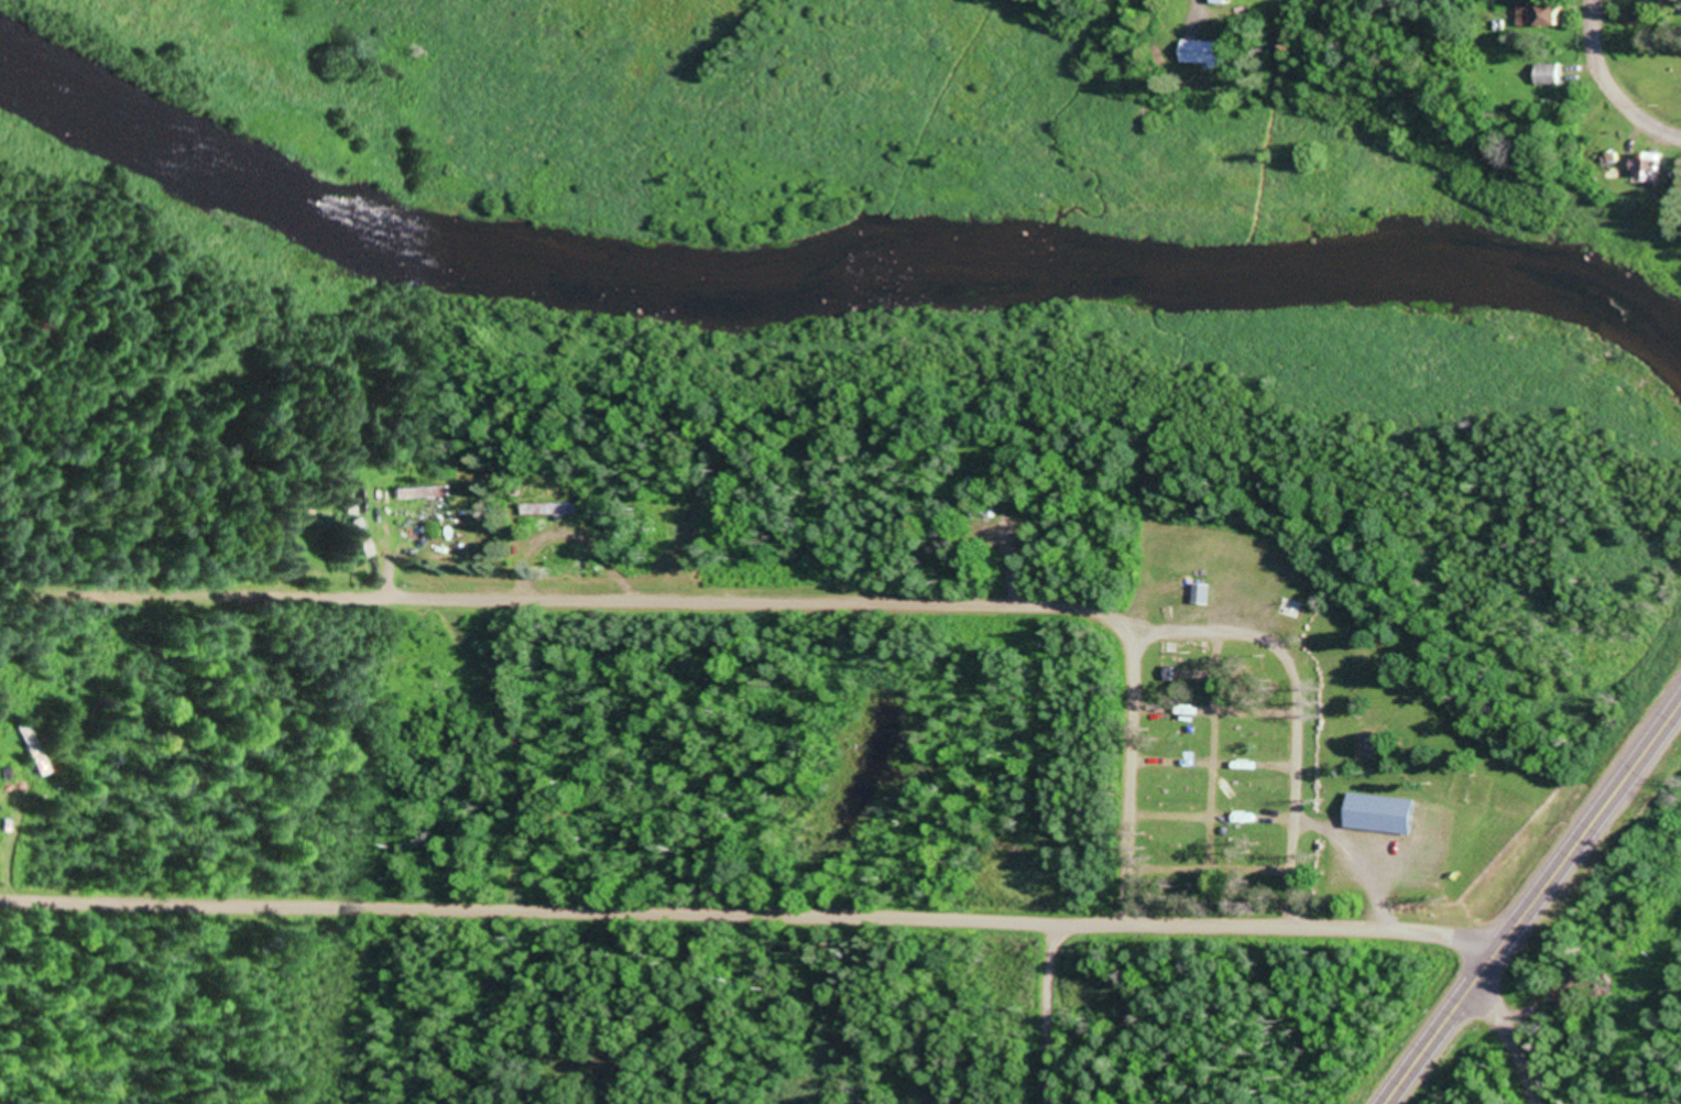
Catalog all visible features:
road: (1296, 4)
building: (1549, 12)
building: (1209, 48)
road: (1601, 69)
building: (1550, 70)
road: (1663, 128)
building: (1653, 162)
river: (830, 266)
building: (425, 490)
building: (360, 498)
building: (550, 505)
building: (1204, 590)
road: (810, 598)
building: (1288, 603)
road: (1122, 682)
building: (33, 747)
building: (1386, 810)
road: (522, 901)
road: (1531, 904)
road: (1271, 920)
road: (1043, 1010)
road: (1520, 1026)

